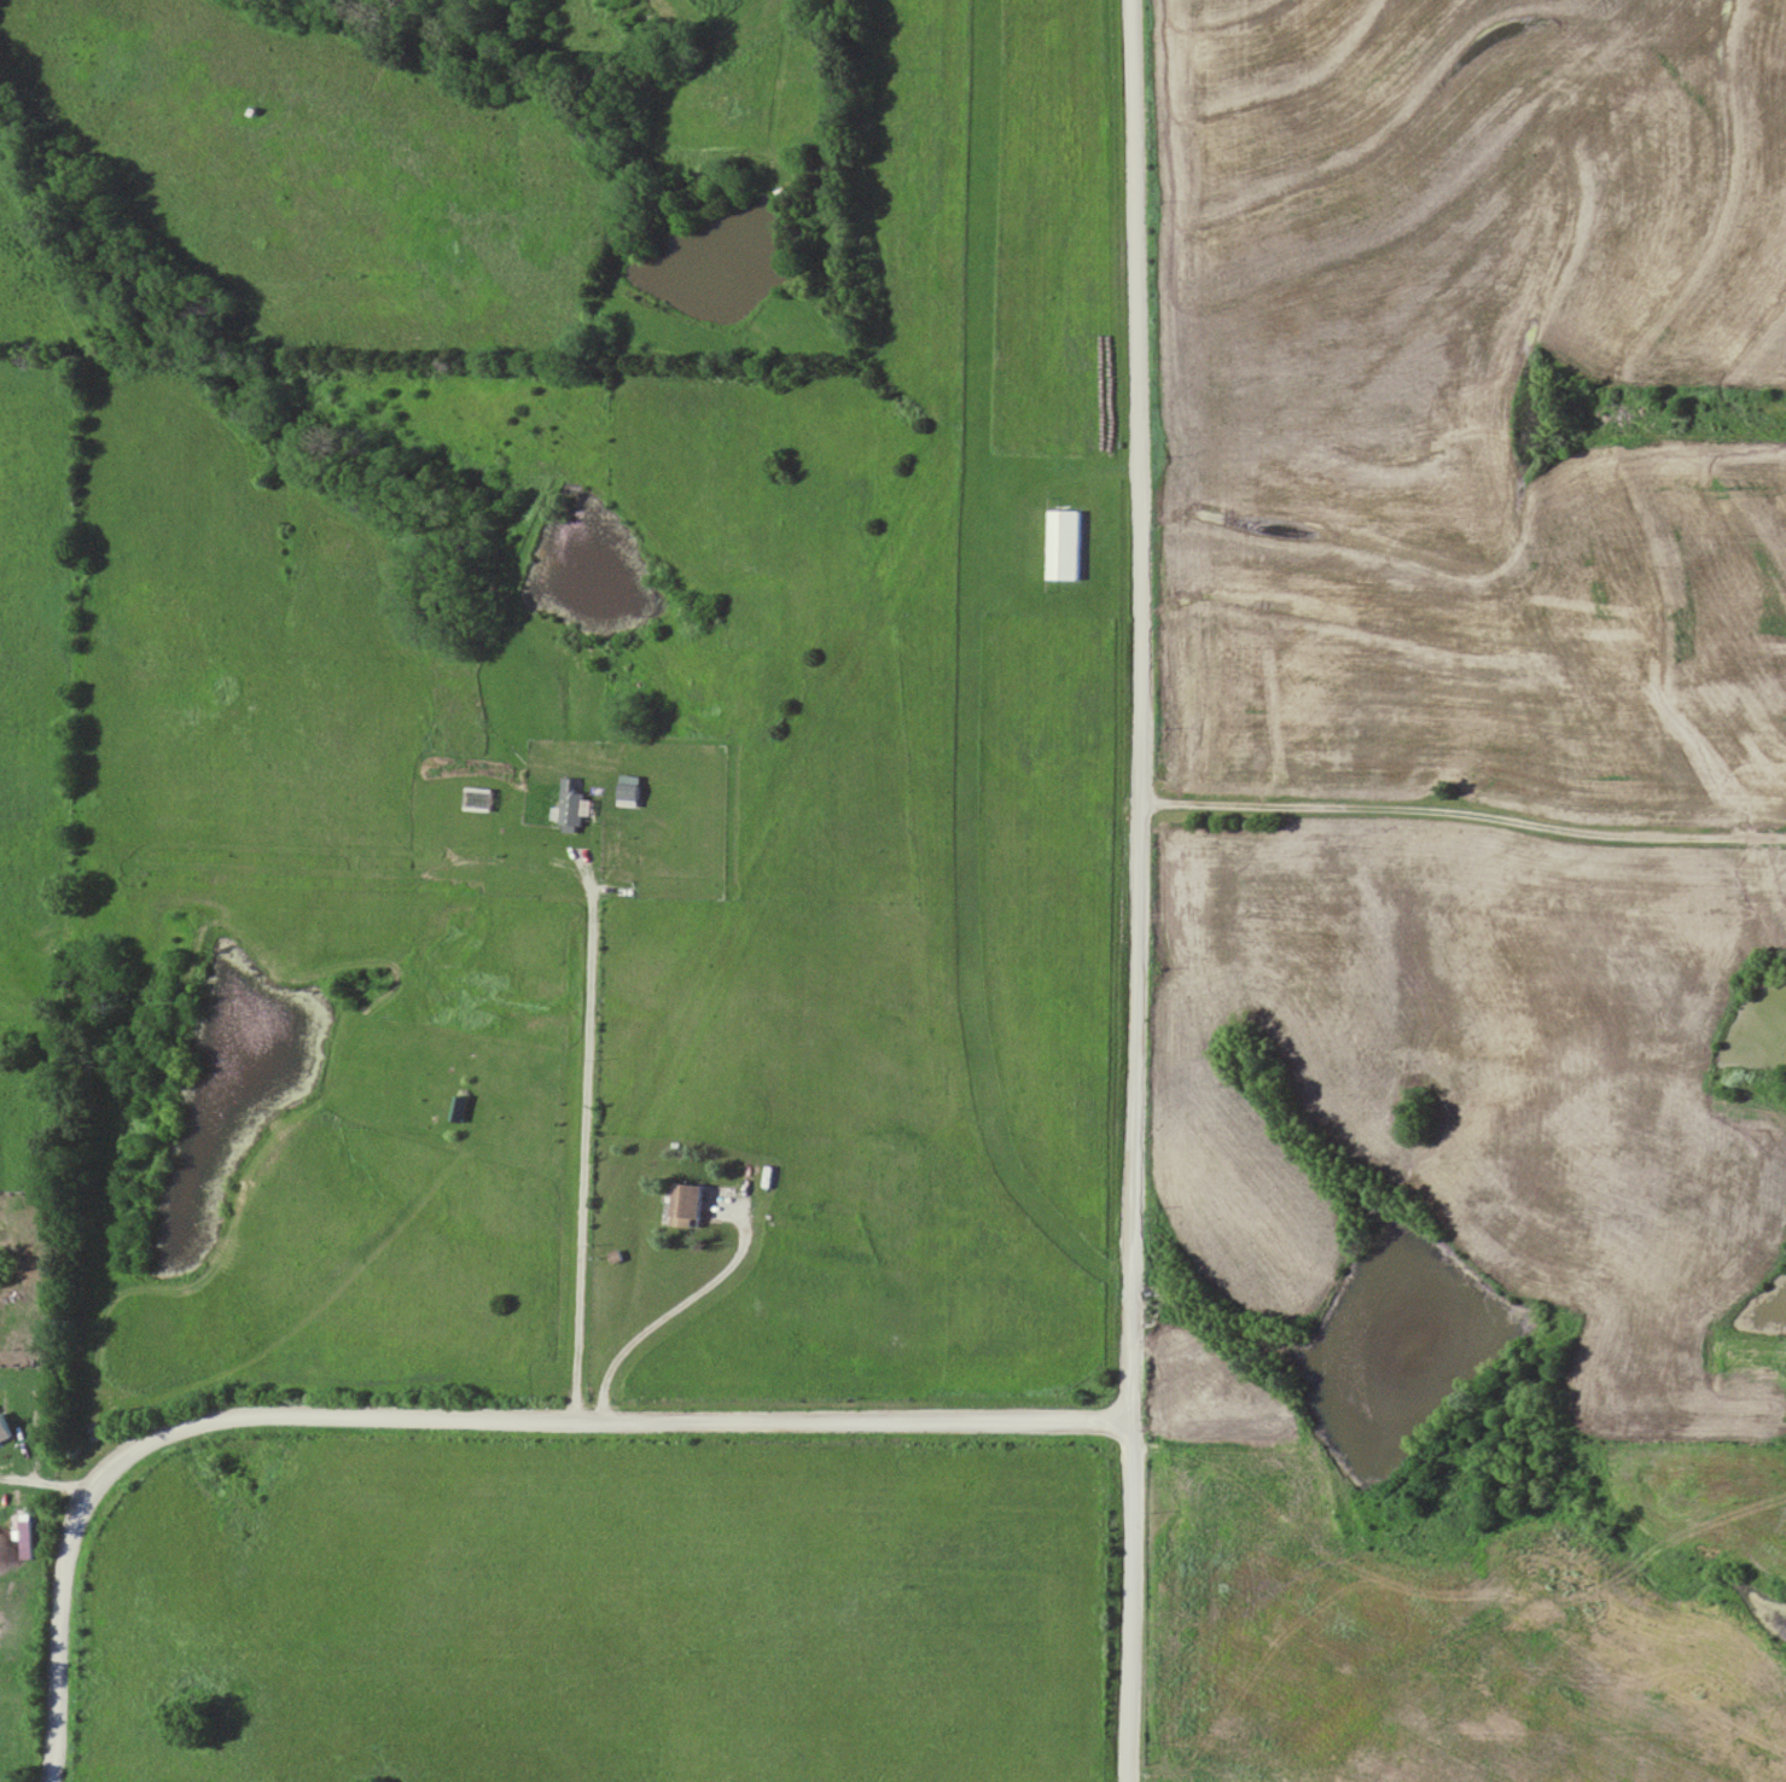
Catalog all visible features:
building: (1067, 543)
road: (1133, 709)
road: (1459, 813)
road: (583, 1135)
building: (692, 1205)
road: (694, 1303)
road: (449, 1417)
building: (6, 1428)
building: (29, 1539)
road: (1127, 1601)

